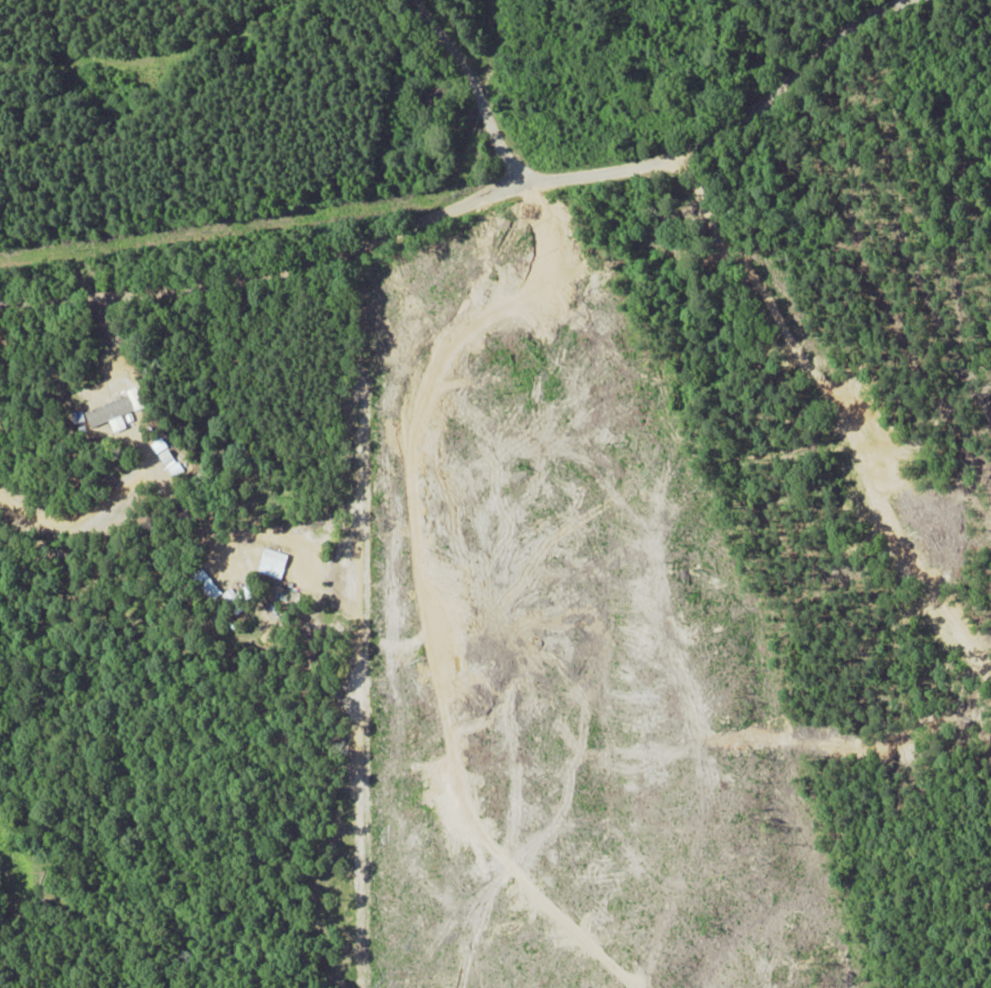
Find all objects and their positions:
road: (475, 86)
road: (475, 204)
building: (117, 411)
building: (167, 457)
building: (272, 563)

